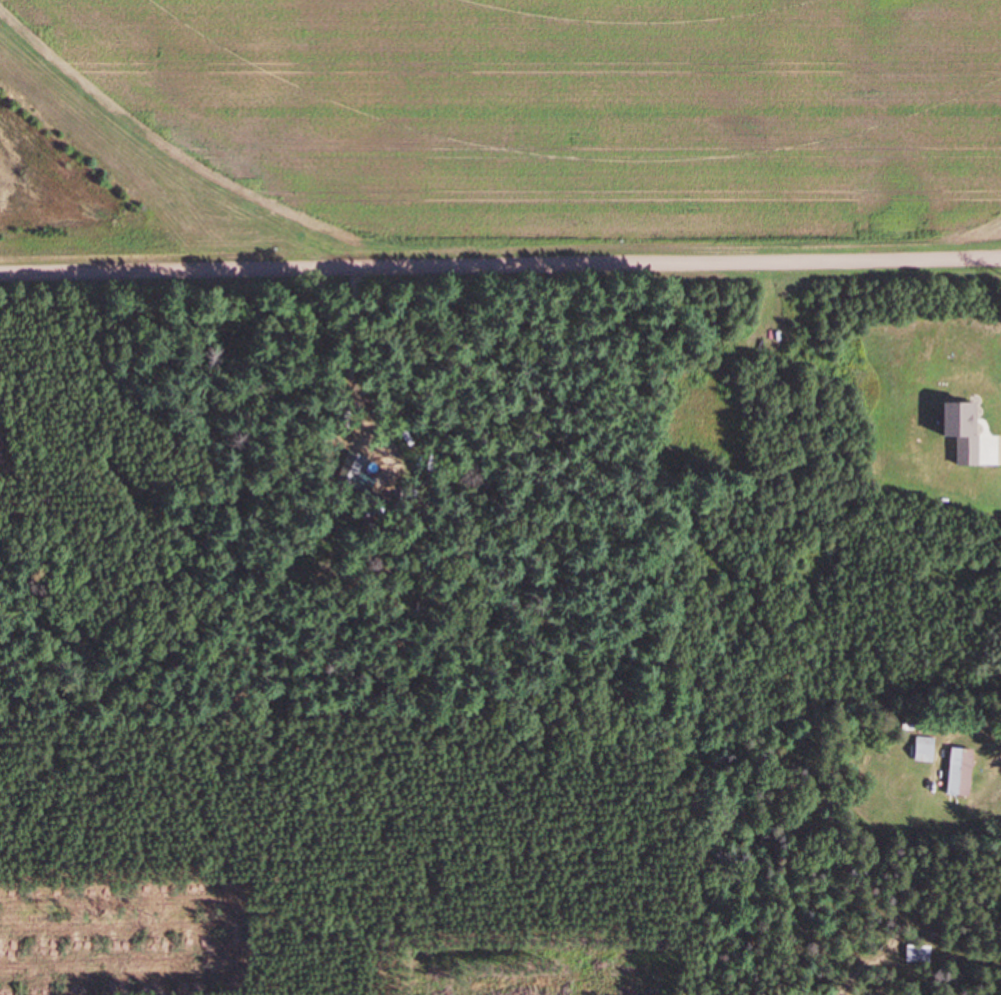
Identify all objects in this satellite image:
crop: (498, 115)
road: (500, 266)
building: (928, 749)
building: (965, 772)
road: (764, 963)
road: (992, 989)

